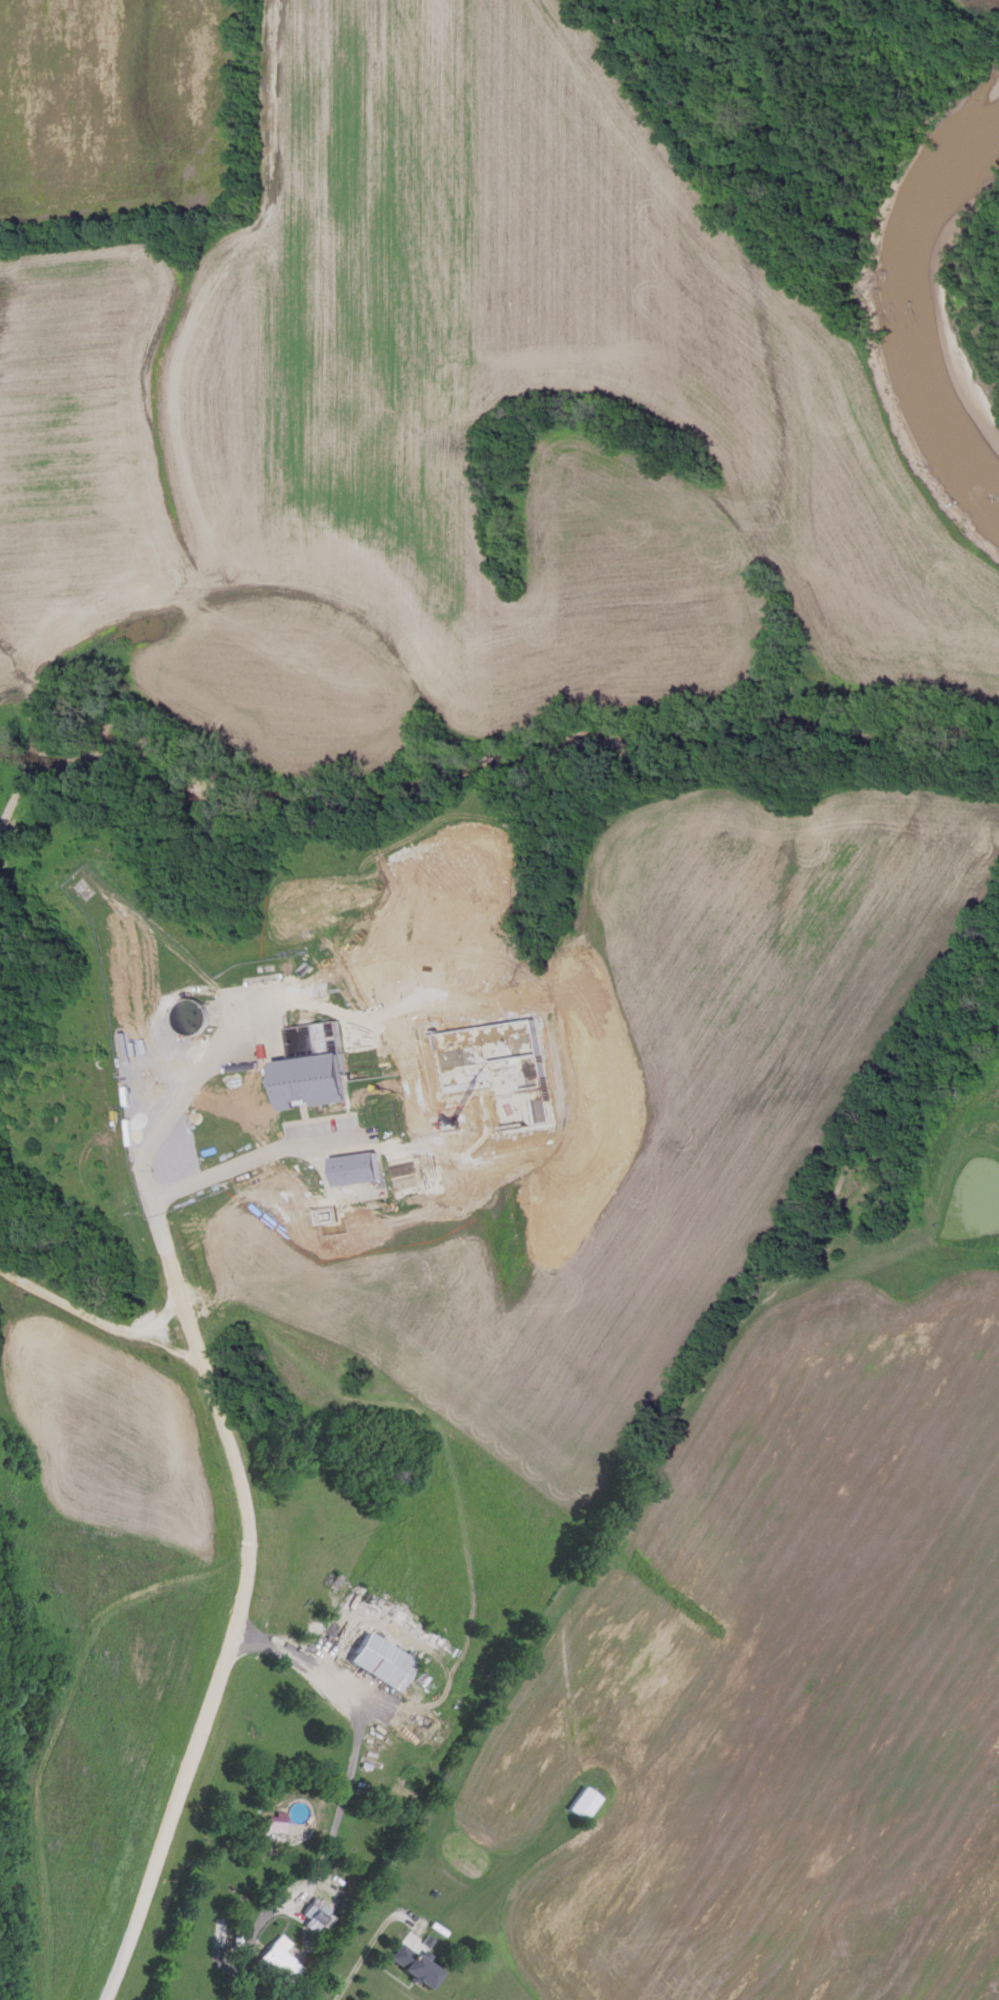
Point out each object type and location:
river: (928, 273)
road: (209, 989)
building: (315, 1083)
road: (252, 1157)
building: (359, 1170)
road: (161, 1315)
road: (100, 1317)
road: (246, 1577)
building: (383, 1663)
road: (342, 1800)
building: (585, 1805)
building: (279, 1823)
road: (374, 1942)
building: (281, 1964)
building: (417, 1967)

